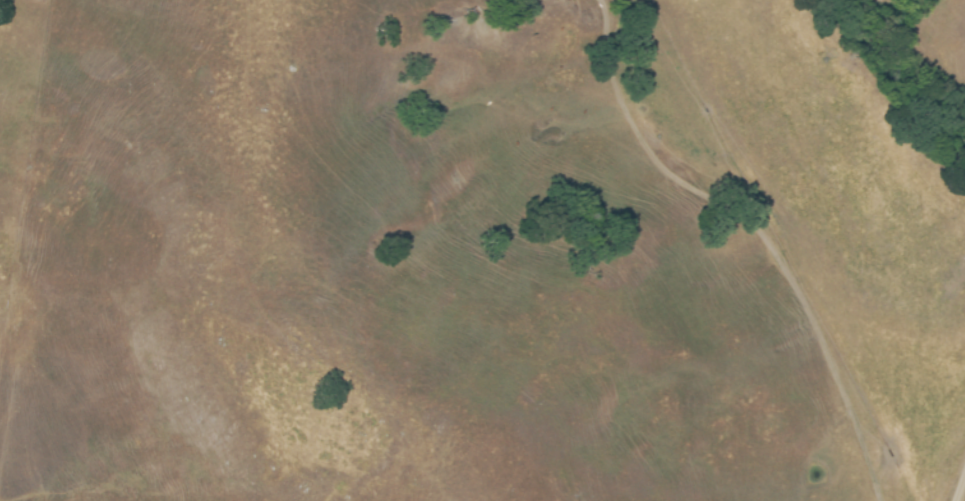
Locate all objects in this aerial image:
road: (961, 492)

